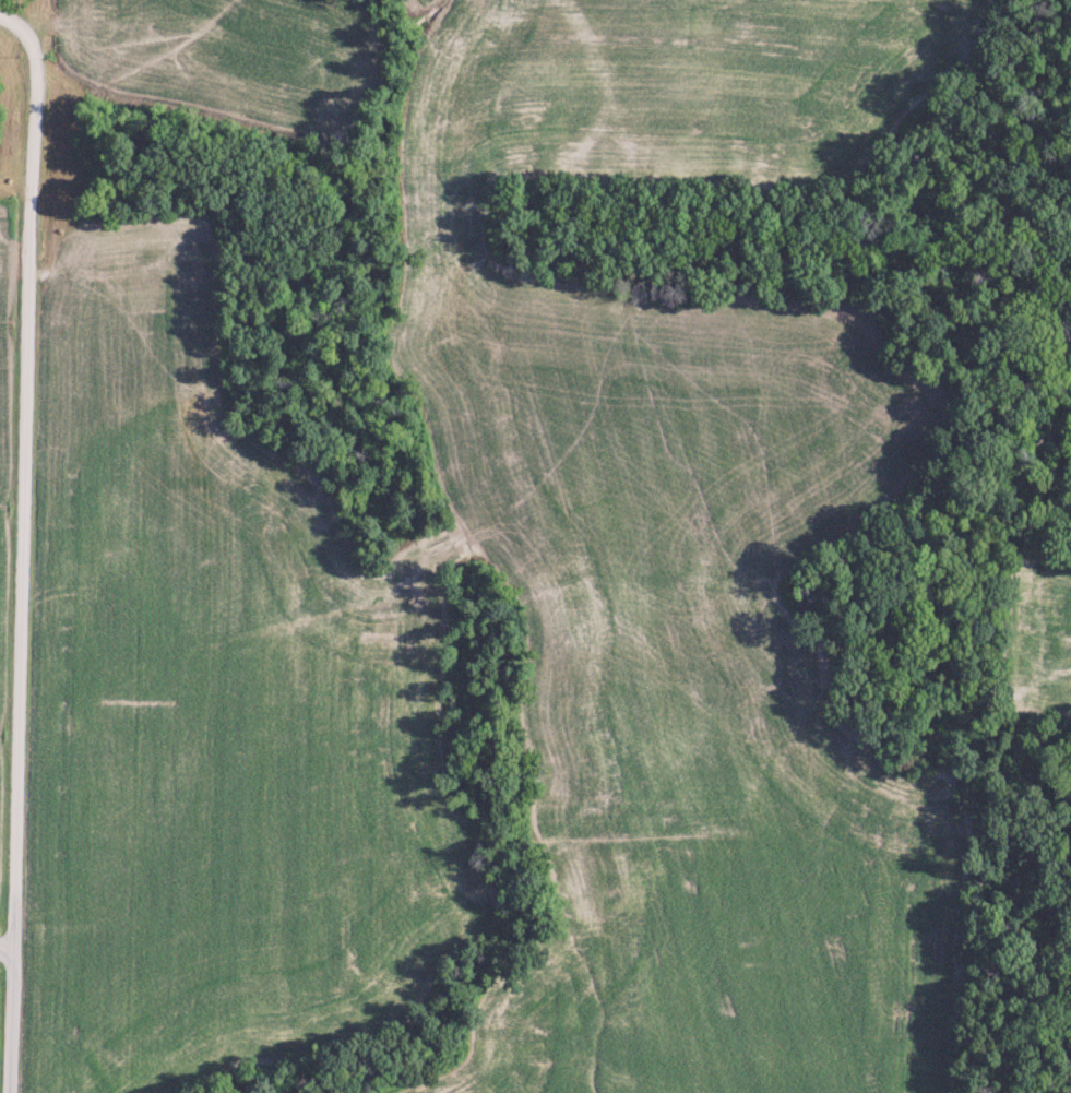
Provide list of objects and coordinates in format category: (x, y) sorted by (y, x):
road: (24, 545)
road: (7, 949)

